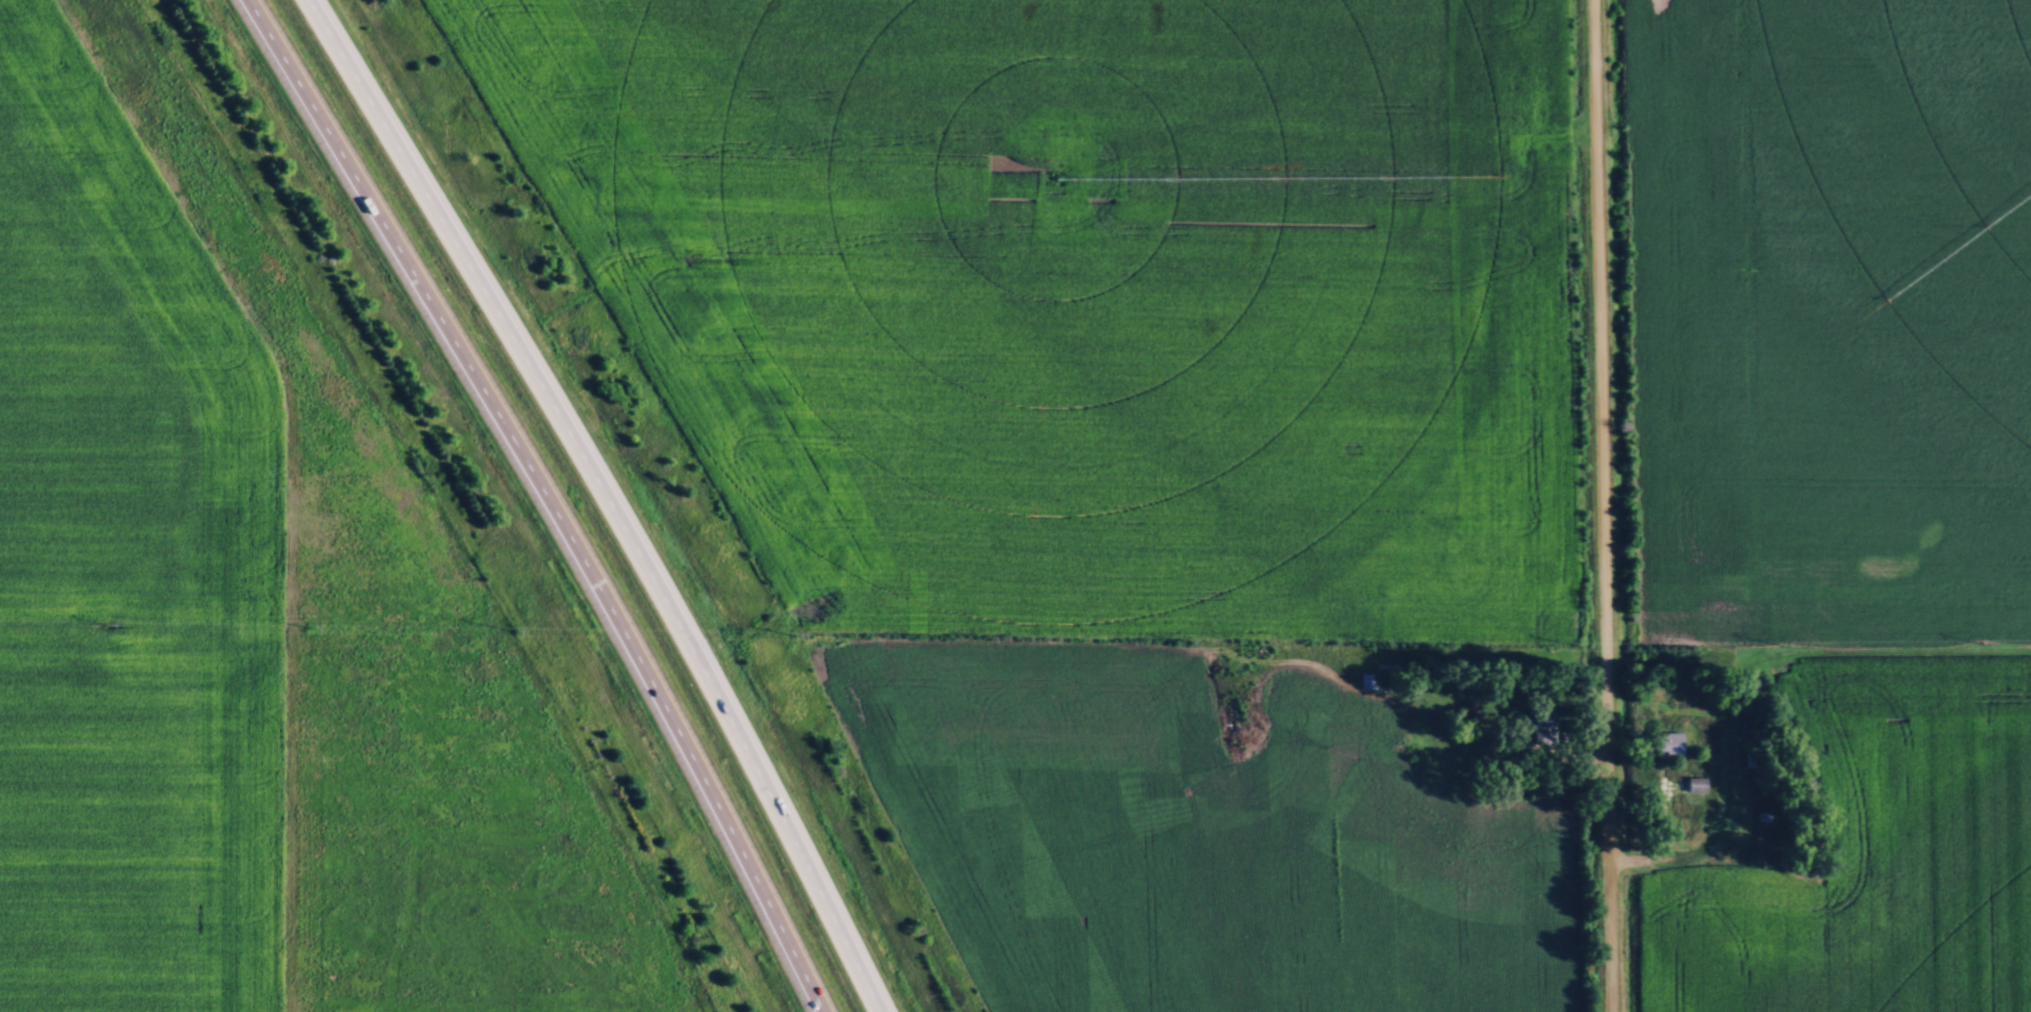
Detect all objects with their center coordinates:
road: (606, 498)
road: (543, 499)
road: (1602, 505)
building: (1376, 679)
building: (1540, 725)
building: (1669, 742)
building: (1694, 783)

